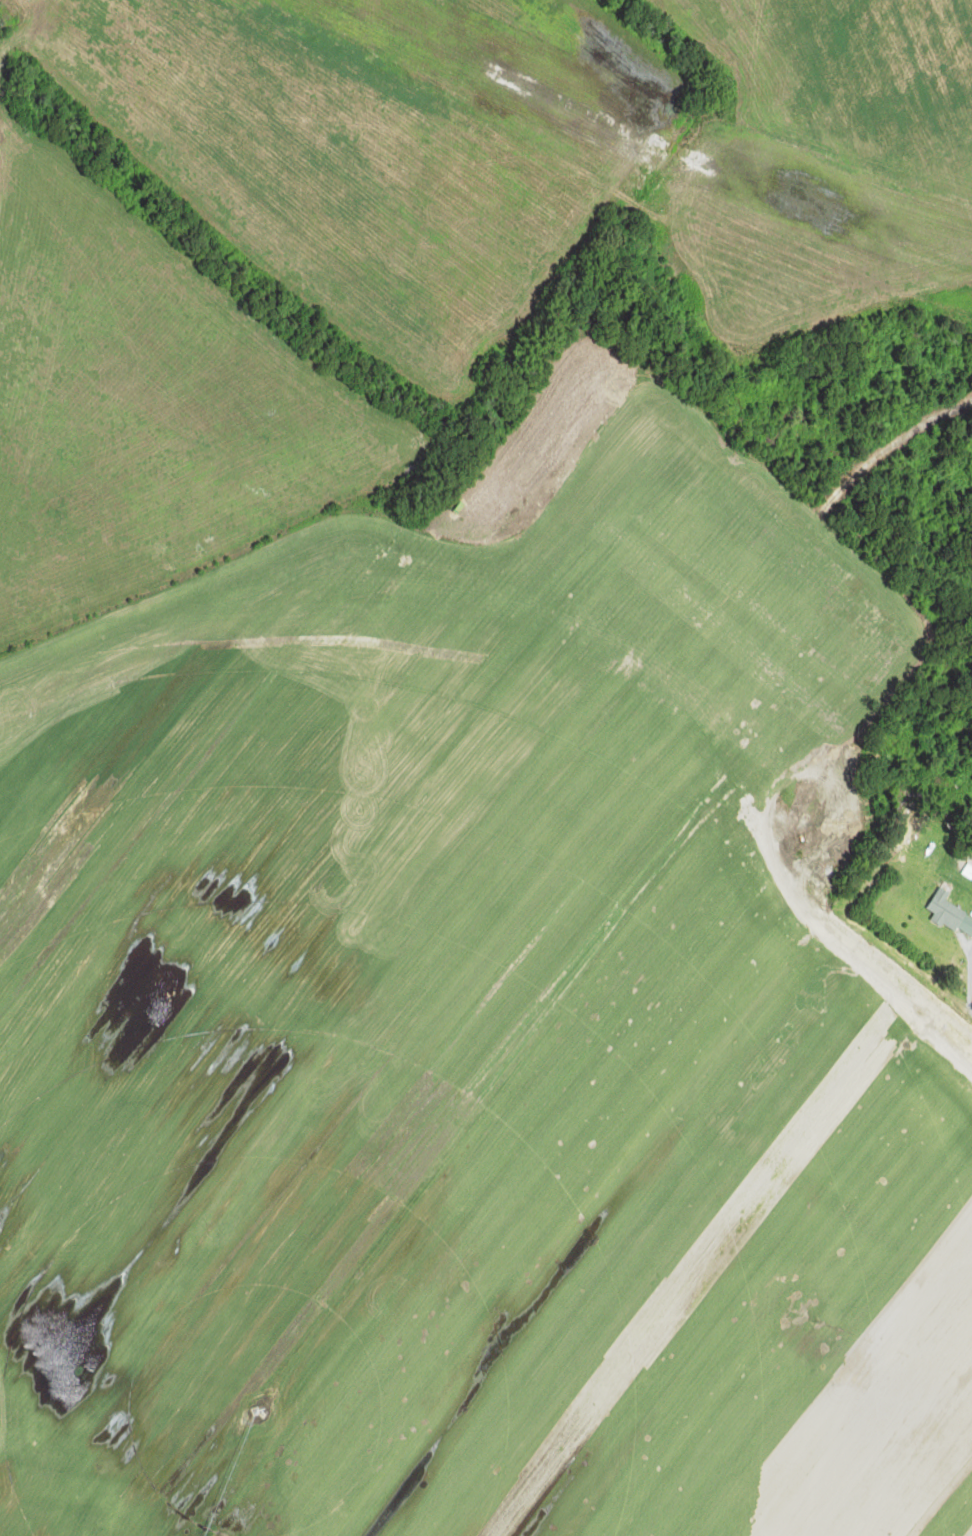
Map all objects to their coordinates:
road: (889, 447)
building: (910, 833)
building: (947, 912)
road: (970, 982)
road: (966, 1012)

